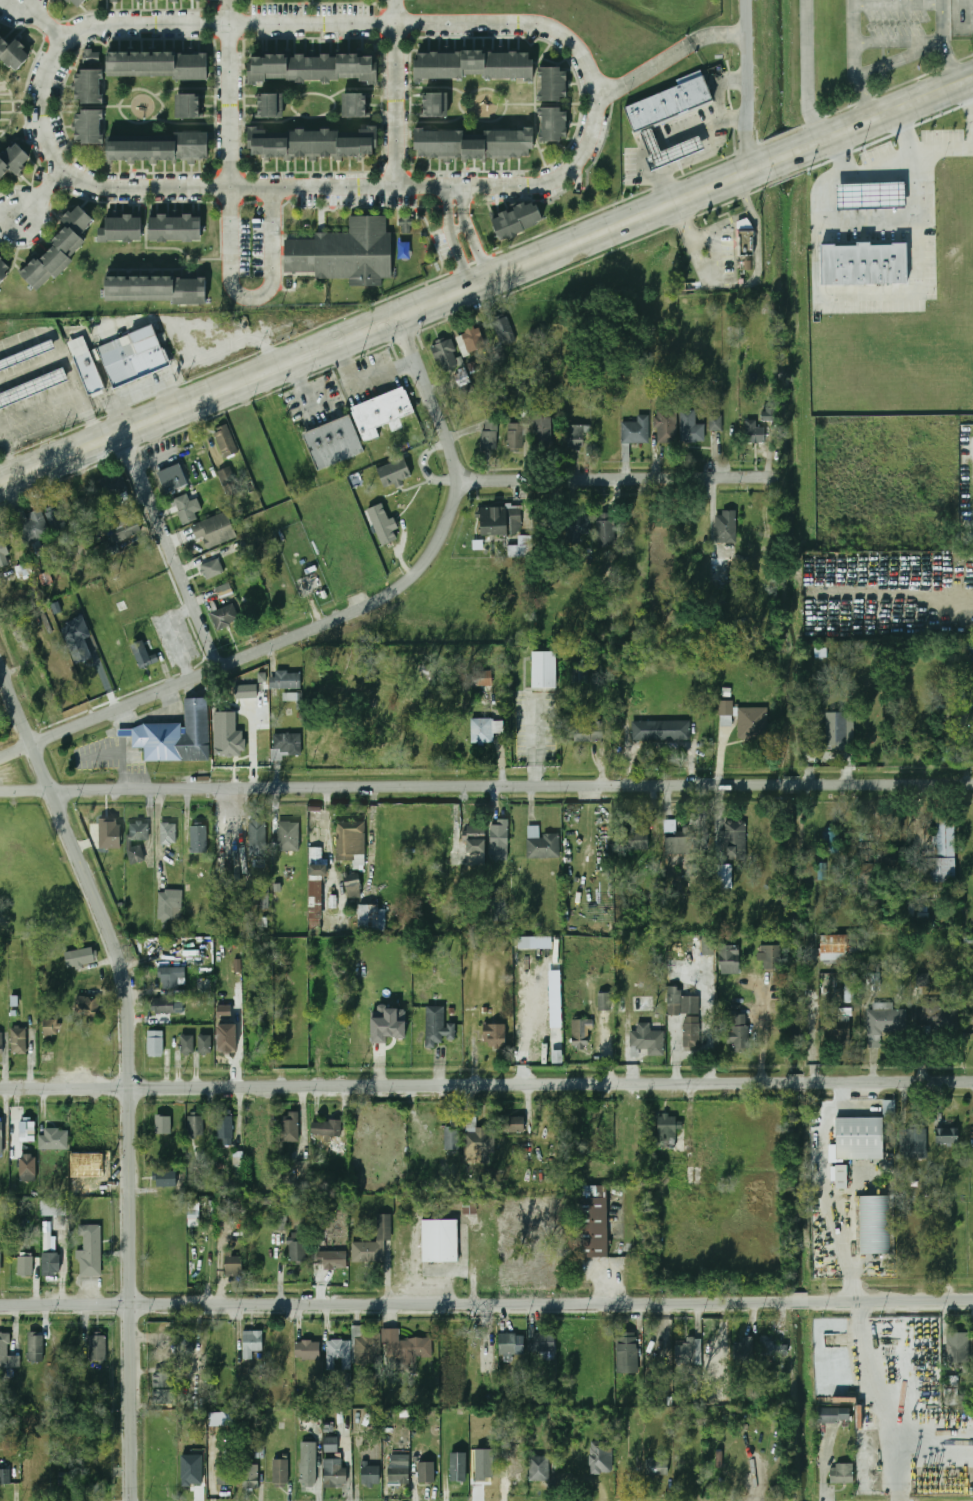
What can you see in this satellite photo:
building: (111, 0)
road: (900, 1)
building: (80, 3)
road: (50, 19)
road: (900, 39)
road: (944, 42)
building: (12, 54)
road: (670, 54)
road: (901, 57)
road: (856, 61)
building: (160, 66)
building: (474, 66)
building: (315, 68)
road: (808, 72)
building: (91, 76)
building: (551, 84)
road: (751, 85)
road: (720, 88)
road: (393, 92)
building: (669, 102)
road: (969, 105)
building: (273, 106)
building: (358, 106)
building: (439, 106)
building: (193, 107)
building: (551, 124)
building: (91, 127)
building: (314, 143)
building: (472, 144)
building: (165, 149)
building: (669, 149)
gas station: (669, 149)
road: (701, 154)
road: (944, 158)
building: (13, 161)
road: (407, 185)
road: (38, 191)
building: (868, 195)
gas station: (868, 195)
road: (463, 205)
road: (447, 207)
road: (228, 218)
road: (683, 219)
building: (513, 220)
road: (826, 222)
building: (406, 223)
road: (460, 227)
building: (177, 228)
building: (123, 230)
building: (746, 239)
road: (717, 247)
building: (62, 250)
road: (919, 250)
building: (343, 252)
road: (478, 253)
road: (461, 259)
building: (861, 264)
building: (5, 272)
road: (507, 273)
road: (758, 274)
building: (158, 290)
building: (504, 330)
building: (470, 341)
building: (445, 355)
building: (29, 356)
building: (137, 357)
building: (90, 367)
building: (462, 378)
building: (32, 386)
road: (301, 388)
building: (385, 412)
building: (767, 416)
building: (715, 422)
building: (666, 425)
building: (690, 428)
building: (636, 430)
building: (543, 432)
building: (753, 432)
building: (516, 437)
building: (575, 437)
building: (226, 440)
building: (489, 440)
building: (336, 443)
building: (398, 473)
road: (20, 476)
building: (226, 477)
building: (172, 478)
road: (616, 481)
building: (111, 486)
building: (89, 506)
building: (185, 510)
building: (55, 520)
building: (500, 520)
building: (383, 524)
building: (578, 524)
building: (726, 526)
building: (32, 527)
building: (215, 530)
building: (606, 532)
building: (117, 535)
building: (522, 547)
road: (173, 551)
building: (3, 553)
building: (211, 568)
building: (720, 575)
building: (224, 590)
building: (224, 617)
road: (339, 620)
road: (170, 636)
building: (77, 639)
building: (92, 647)
building: (142, 654)
building: (544, 669)
building: (578, 673)
building: (487, 677)
building: (285, 679)
building: (971, 682)
building: (246, 691)
building: (290, 696)
building: (745, 720)
building: (523, 722)
building: (661, 729)
building: (836, 729)
building: (482, 730)
building: (587, 732)
building: (176, 735)
building: (226, 736)
building: (286, 745)
road: (486, 789)
building: (112, 824)
building: (317, 827)
road: (158, 828)
building: (139, 831)
building: (168, 833)
building: (288, 836)
building: (257, 838)
building: (198, 839)
building: (227, 839)
building: (499, 839)
building: (350, 840)
building: (734, 840)
building: (475, 841)
building: (637, 841)
building: (832, 841)
building: (541, 843)
building: (682, 845)
building: (943, 851)
building: (314, 853)
building: (725, 876)
road: (333, 879)
building: (353, 885)
building: (316, 898)
building: (169, 905)
building: (371, 918)
building: (535, 942)
building: (708, 946)
building: (836, 948)
building: (79, 957)
building: (770, 957)
building: (728, 959)
building: (171, 977)
building: (922, 979)
building: (850, 988)
building: (674, 1004)
building: (163, 1005)
building: (87, 1007)
building: (605, 1007)
building: (224, 1010)
building: (938, 1017)
building: (388, 1024)
building: (881, 1025)
building: (436, 1026)
building: (838, 1027)
road: (764, 1028)
building: (49, 1029)
building: (691, 1032)
building: (739, 1032)
building: (494, 1034)
building: (581, 1034)
building: (641, 1036)
building: (227, 1038)
building: (19, 1041)
building: (155, 1043)
building: (187, 1044)
building: (204, 1044)
building: (1, 1045)
building: (83, 1052)
road: (128, 1074)
road: (486, 1085)
building: (888, 1108)
building: (512, 1124)
building: (162, 1125)
building: (194, 1126)
building: (224, 1127)
building: (290, 1127)
building: (256, 1128)
building: (327, 1129)
building: (27, 1131)
building: (1, 1134)
building: (946, 1135)
building: (478, 1137)
building: (860, 1137)
building: (452, 1138)
building: (54, 1139)
building: (671, 1140)
building: (378, 1141)
building: (913, 1143)
building: (409, 1166)
building: (28, 1167)
building: (302, 1168)
building: (700, 1175)
building: (841, 1176)
building: (164, 1179)
building: (378, 1186)
building: (269, 1203)
building: (470, 1205)
building: (52, 1208)
building: (193, 1214)
road: (831, 1218)
building: (282, 1224)
building: (875, 1224)
building: (591, 1226)
building: (48, 1234)
building: (439, 1240)
building: (297, 1248)
building: (90, 1251)
building: (367, 1251)
building: (263, 1252)
building: (332, 1259)
building: (0, 1262)
building: (50, 1263)
building: (232, 1264)
building: (24, 1266)
road: (486, 1304)
building: (540, 1340)
building: (251, 1343)
building: (510, 1343)
building: (185, 1346)
building: (365, 1346)
building: (455, 1346)
building: (35, 1347)
building: (406, 1347)
building: (771, 1347)
building: (927, 1347)
building: (958, 1348)
building: (97, 1349)
building: (217, 1349)
building: (307, 1350)
building: (740, 1350)
building: (337, 1353)
building: (626, 1353)
building: (688, 1353)
building: (6, 1357)
building: (659, 1359)
building: (161, 1380)
road: (865, 1386)
building: (951, 1390)
building: (160, 1397)
building: (307, 1415)
building: (832, 1415)
building: (221, 1419)
building: (331, 1444)
building: (868, 1450)
road: (910, 1451)
building: (600, 1458)
building: (308, 1463)
road: (349, 1466)
building: (457, 1466)
building: (657, 1467)
building: (541, 1468)
building: (280, 1471)
building: (335, 1472)
building: (426, 1472)
building: (841, 1473)
building: (369, 1474)
building: (398, 1474)
building: (224, 1475)
building: (484, 1475)
building: (513, 1475)
building: (4, 1477)
building: (190, 1477)
building: (250, 1477)
building: (64, 1479)

